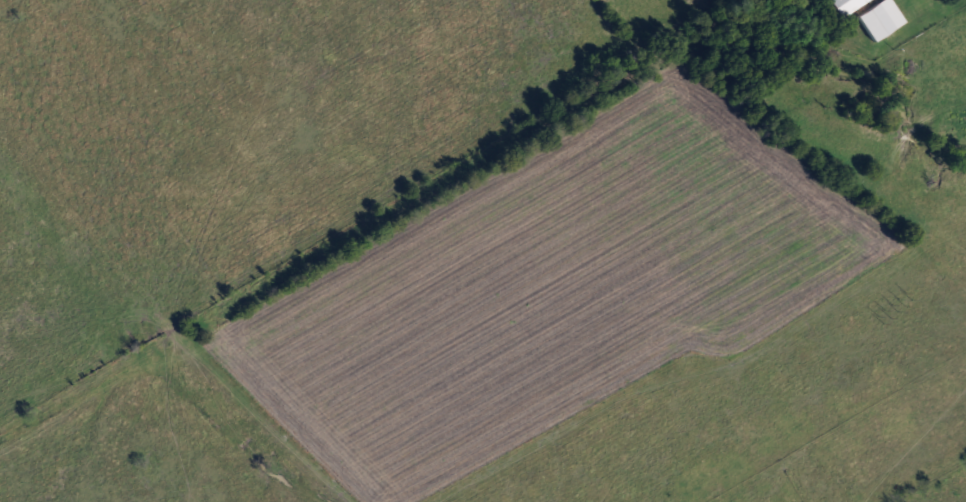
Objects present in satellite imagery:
building: (846, 5)
building: (881, 19)

